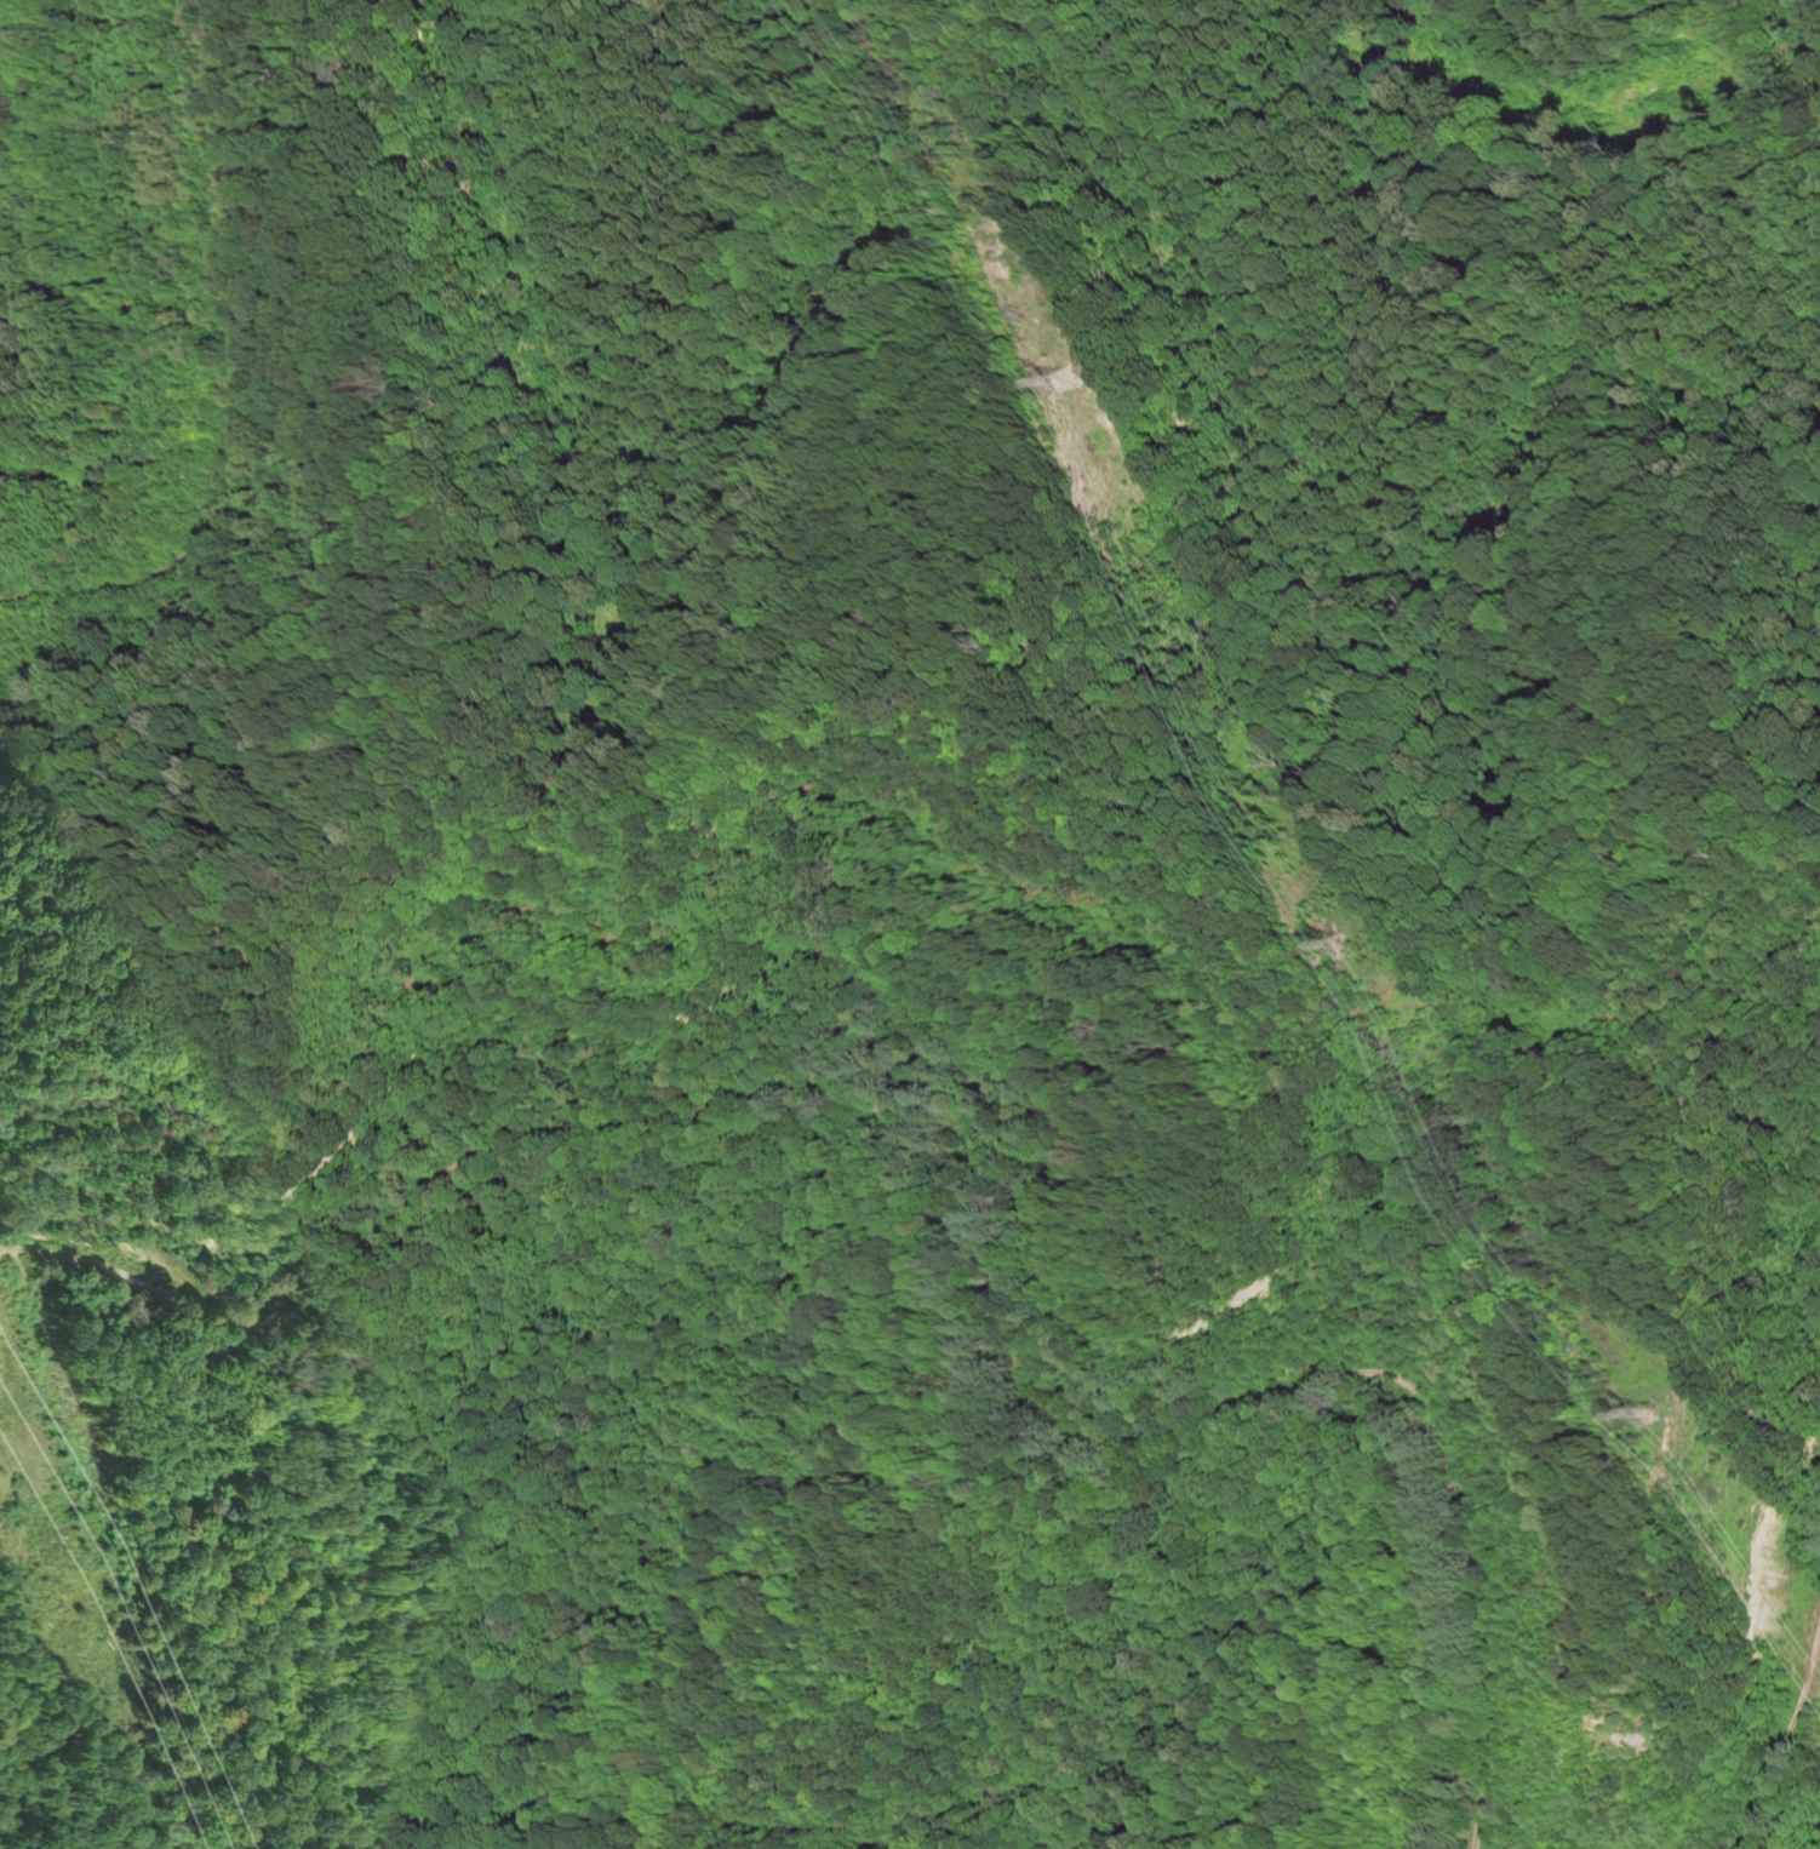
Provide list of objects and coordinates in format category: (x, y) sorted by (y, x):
power tower: (1080, 380)
power tower: (1627, 1415)

